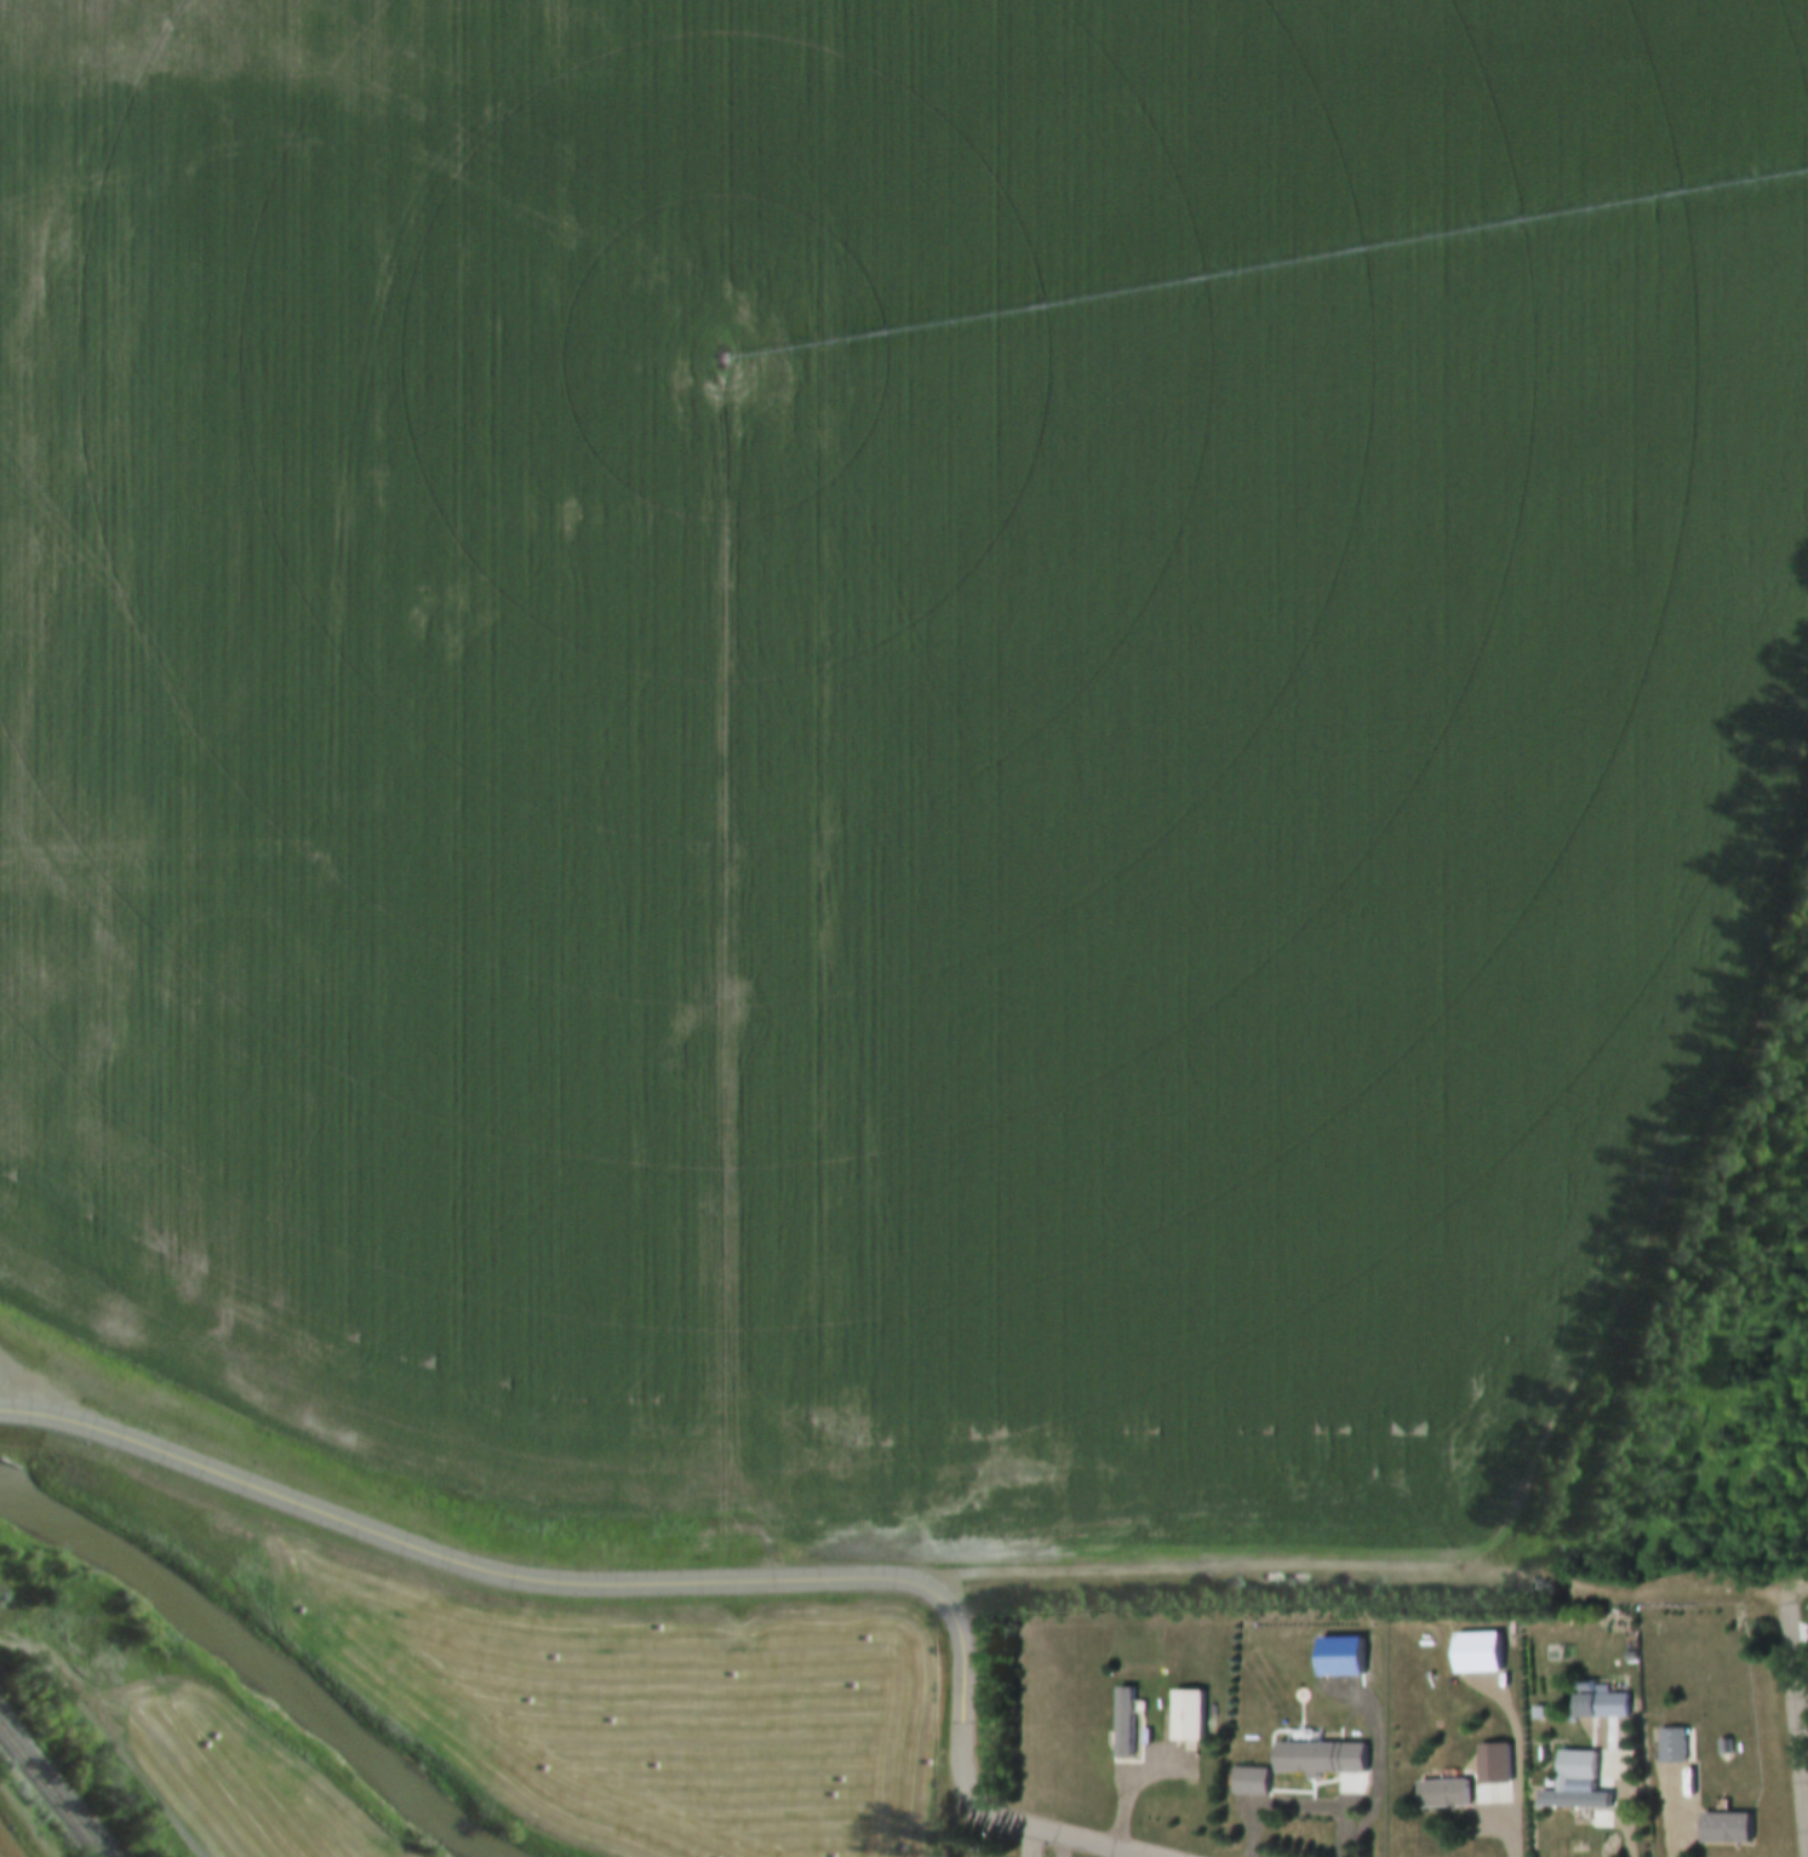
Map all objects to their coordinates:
road: (5, 1404)
road: (445, 1564)
road: (1798, 1681)
building: (1610, 1708)
building: (1188, 1719)
building: (1671, 1748)
building: (1493, 1767)
building: (1291, 1778)
road: (952, 1779)
building: (1249, 1784)
railway: (55, 1788)
road: (1621, 1794)
building: (1443, 1796)
building: (1575, 1802)
road: (1676, 1815)
road: (1511, 1828)

